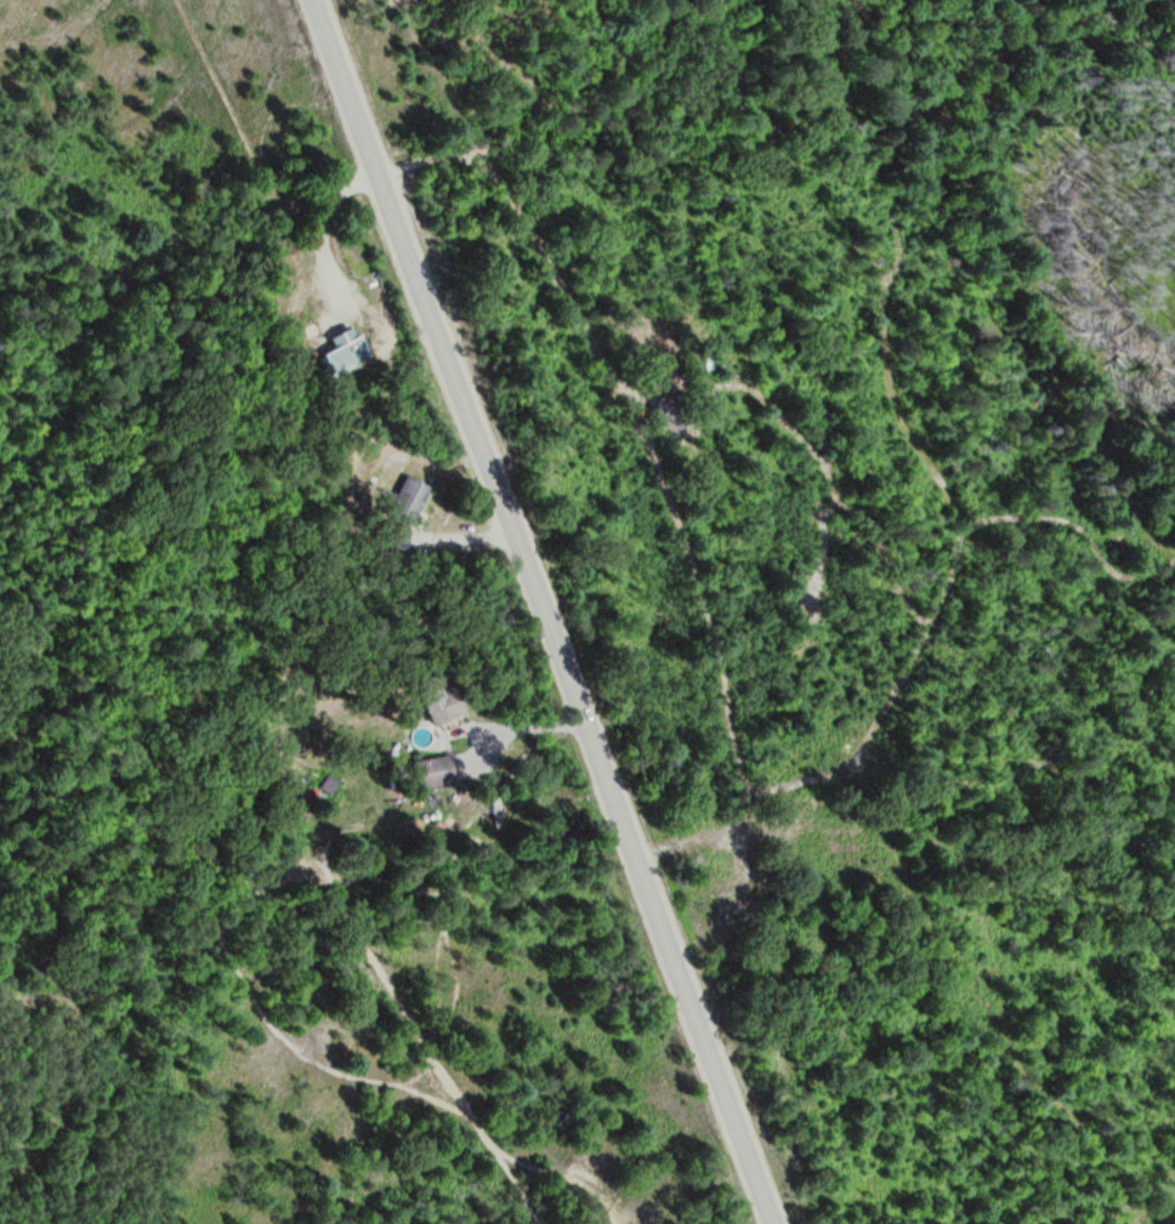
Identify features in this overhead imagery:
building: (347, 351)
building: (413, 496)
road: (544, 611)
building: (444, 699)
building: (438, 770)

